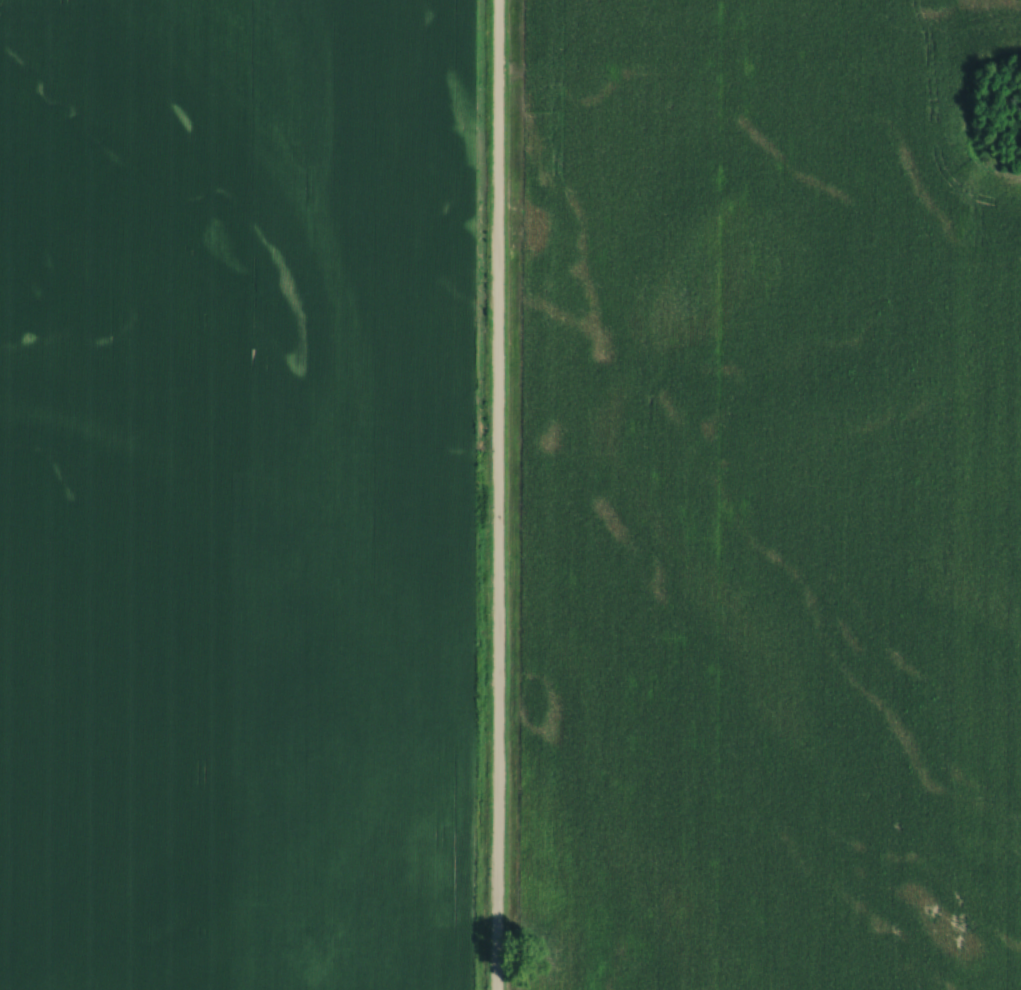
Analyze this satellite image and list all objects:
road: (496, 495)

